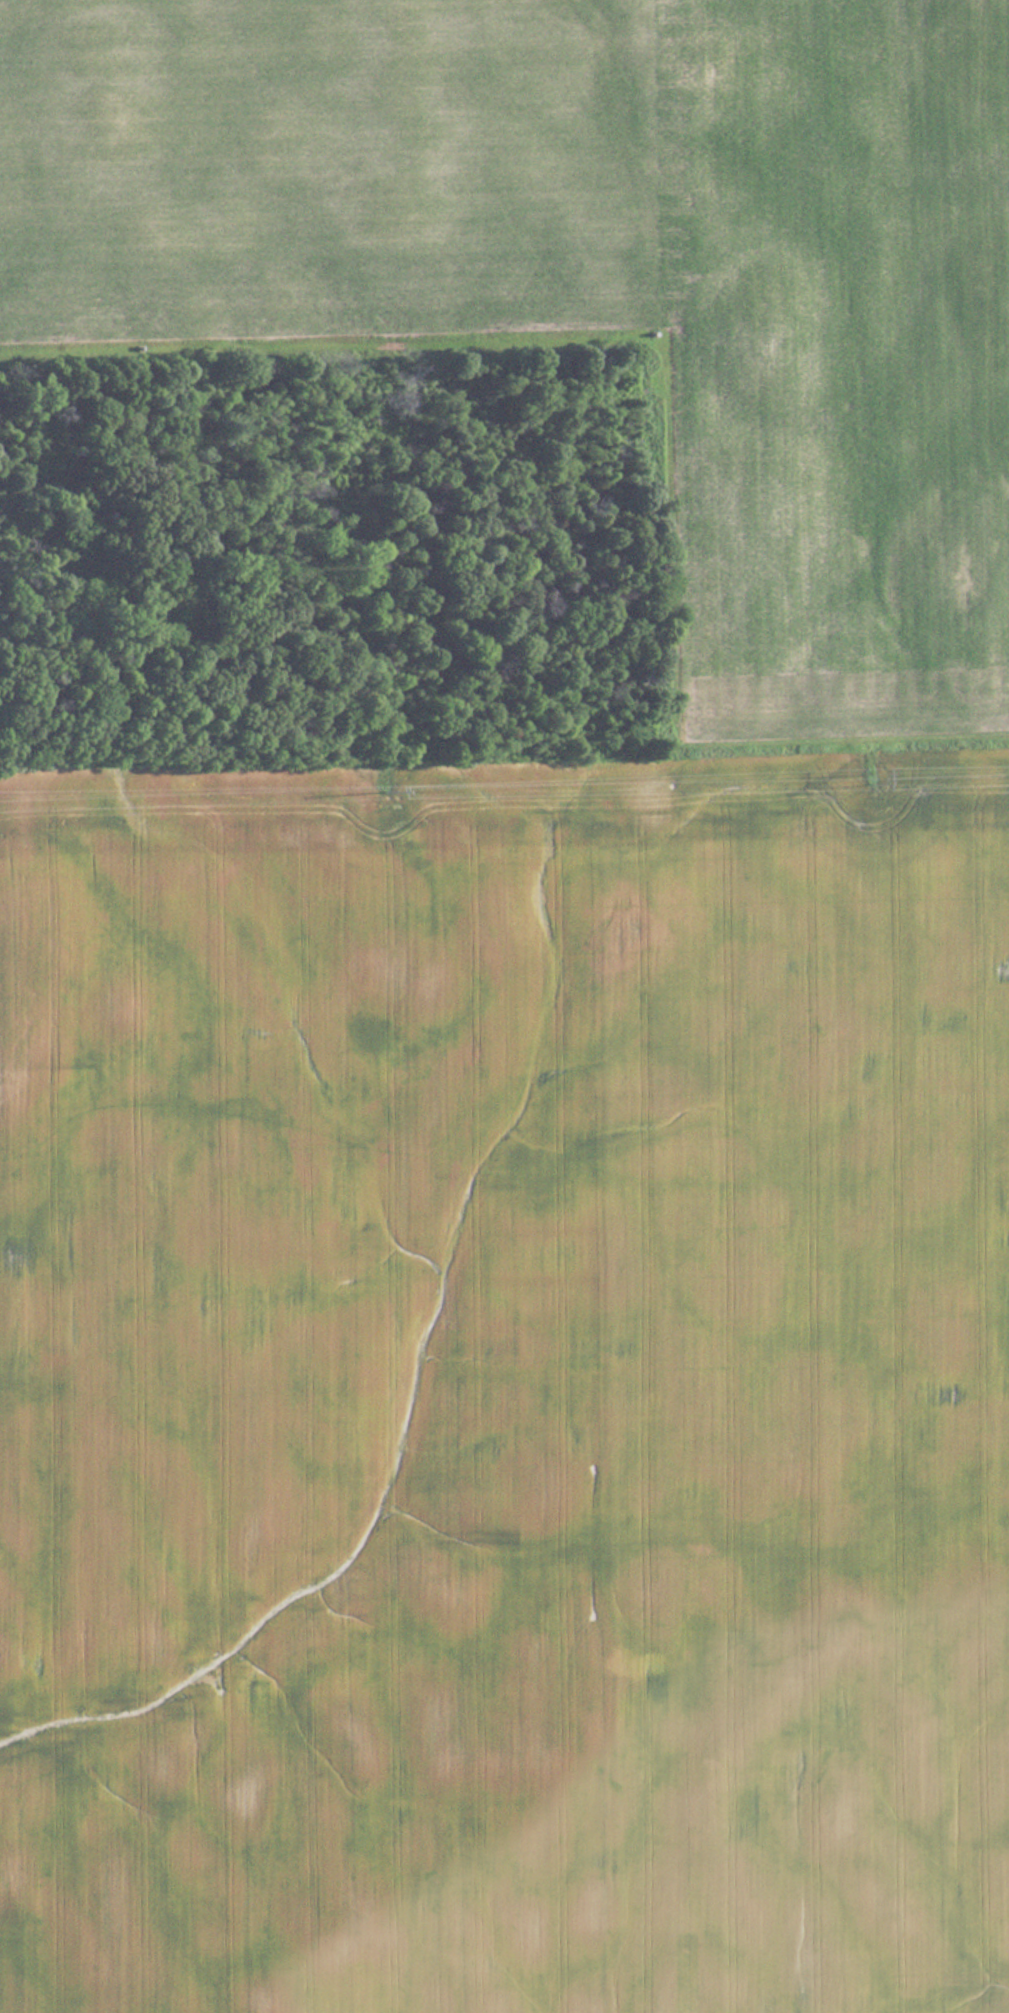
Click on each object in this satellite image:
power tower: (871, 783)
power tower: (383, 793)

